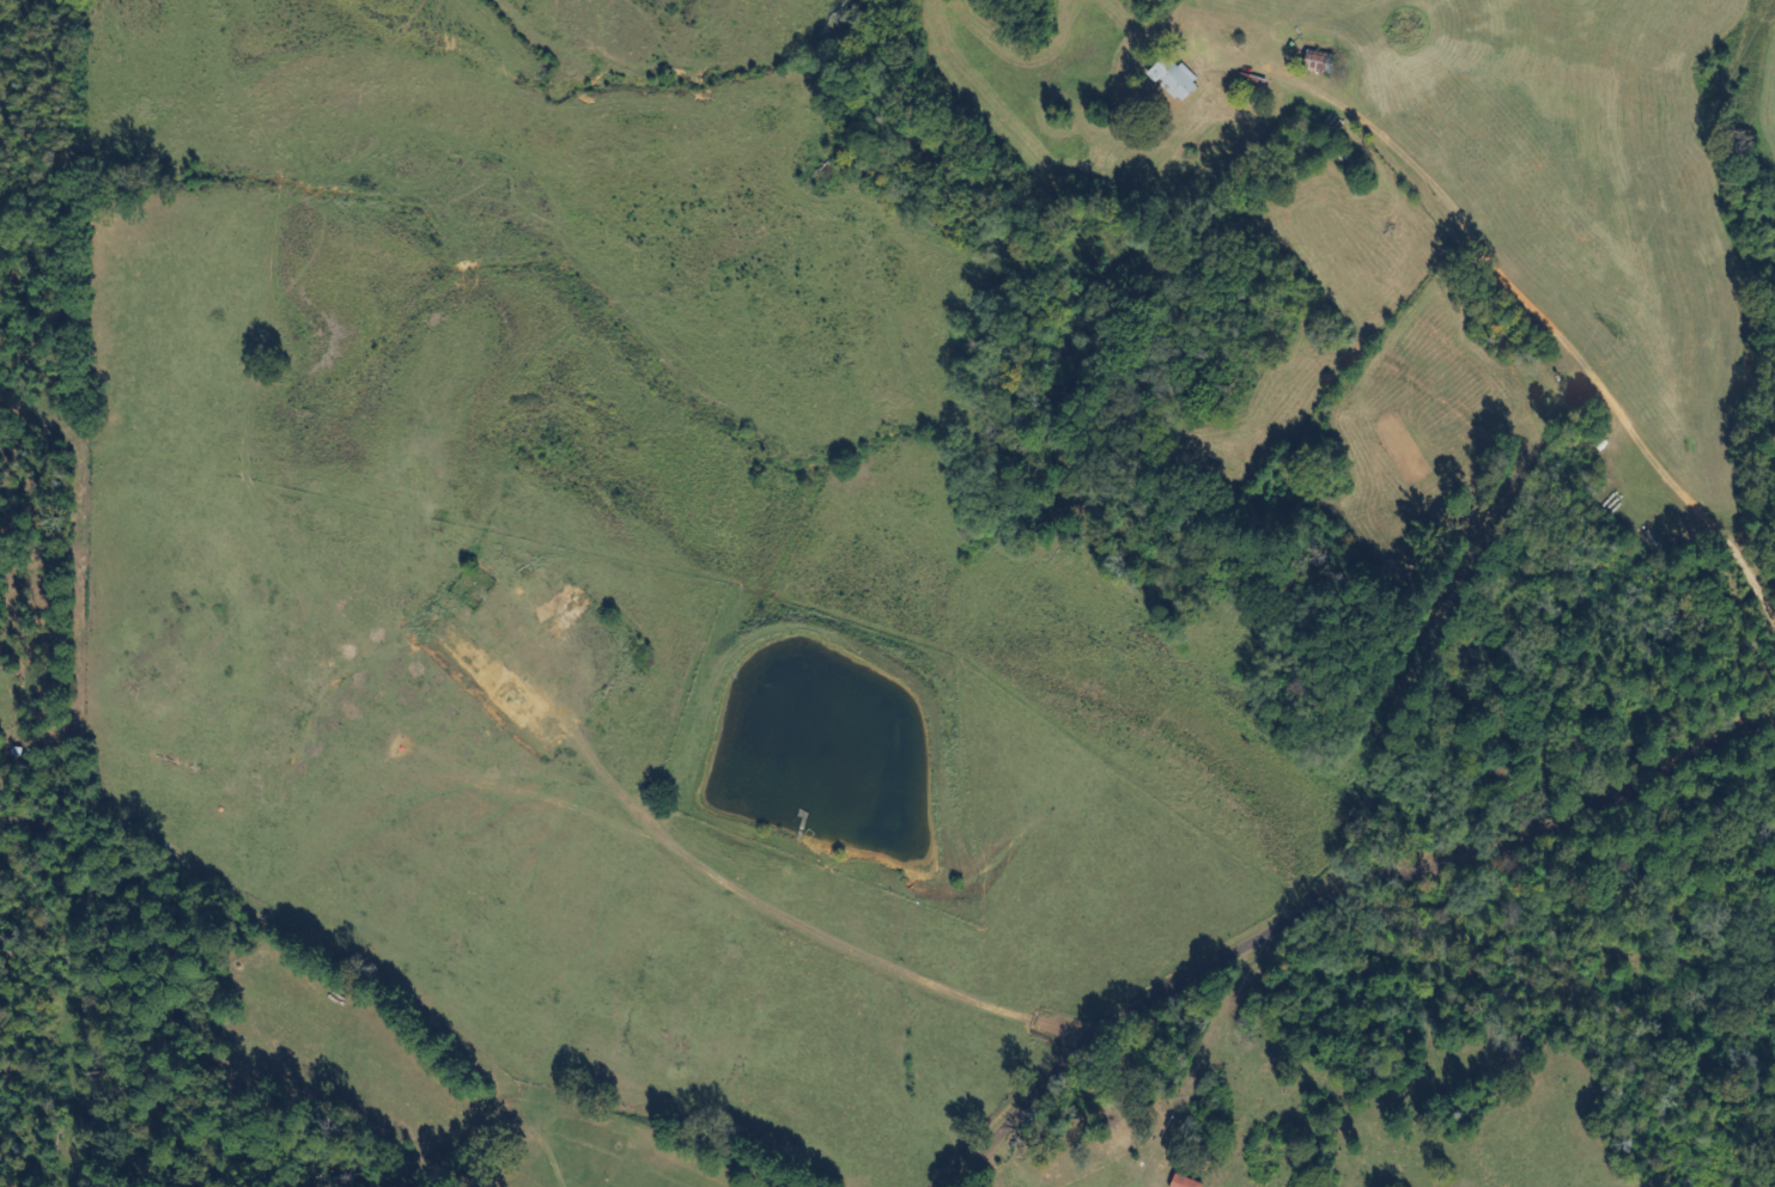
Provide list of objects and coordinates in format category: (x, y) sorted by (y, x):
building: (1315, 66)
building: (1178, 83)
road: (1409, 559)
road: (1313, 901)
road: (381, 1028)
road: (1132, 1134)
building: (1179, 1183)

